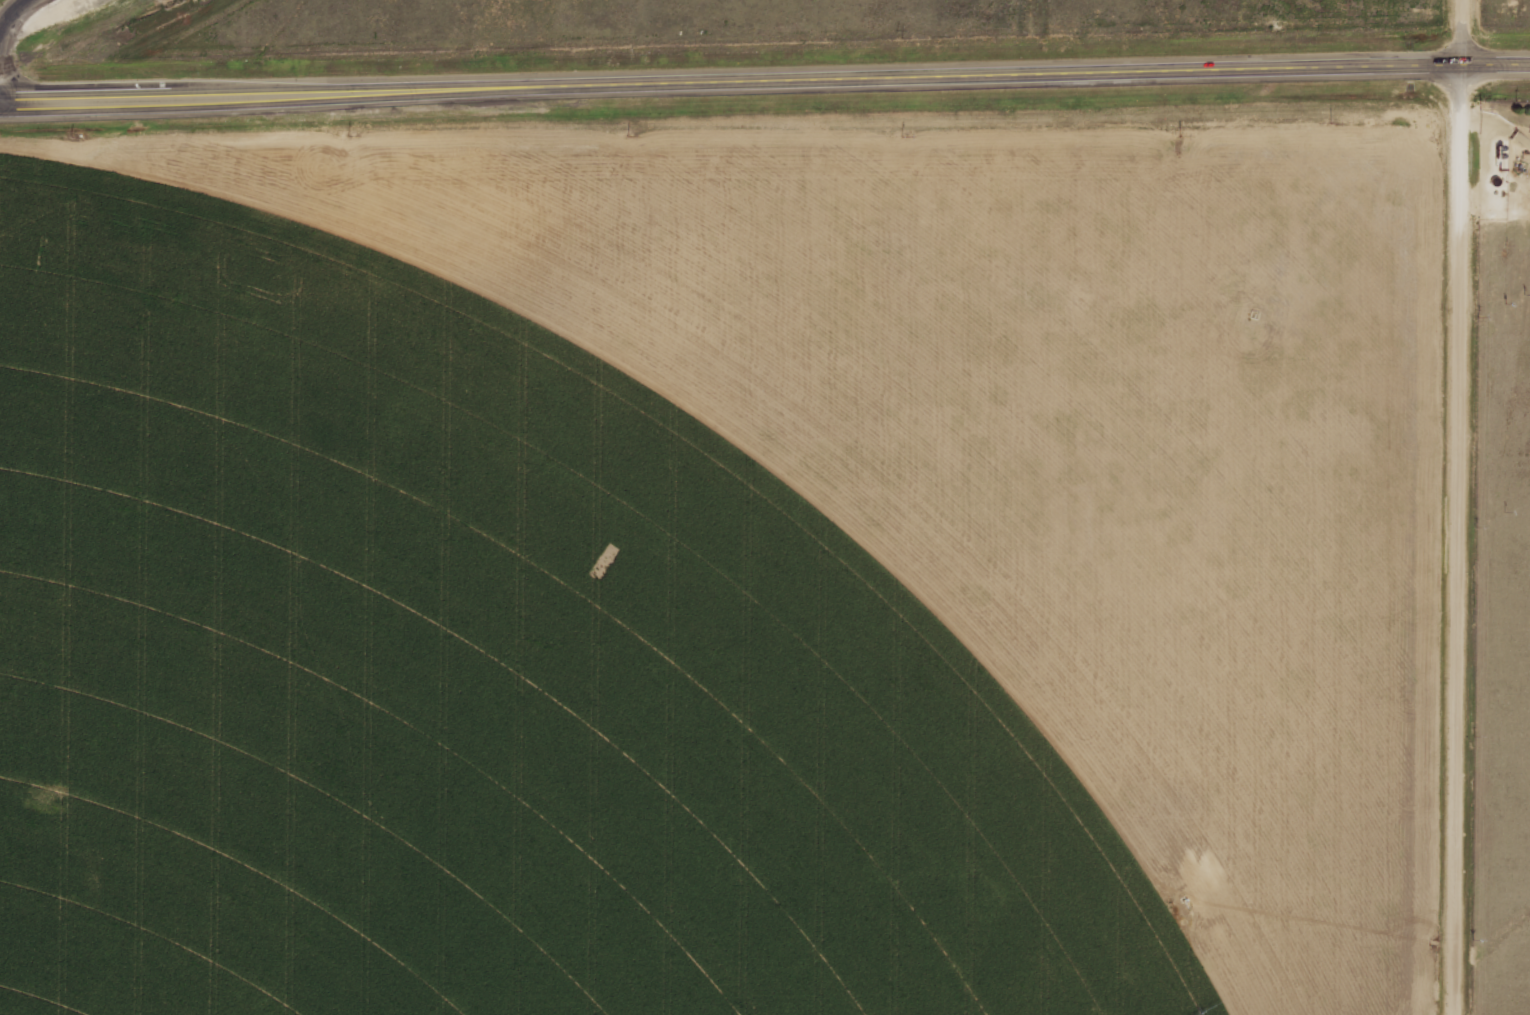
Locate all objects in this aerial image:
road: (3, 19)
road: (764, 82)
road: (1462, 507)

